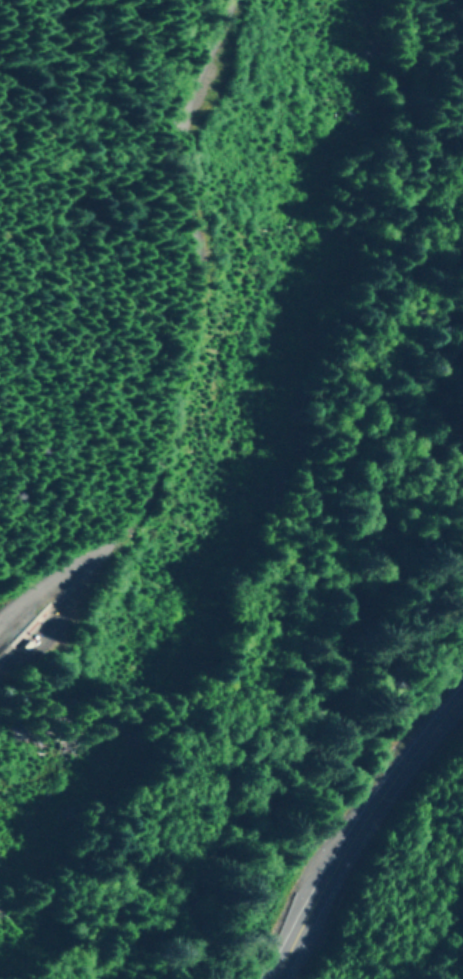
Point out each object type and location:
road: (172, 336)
road: (360, 834)

